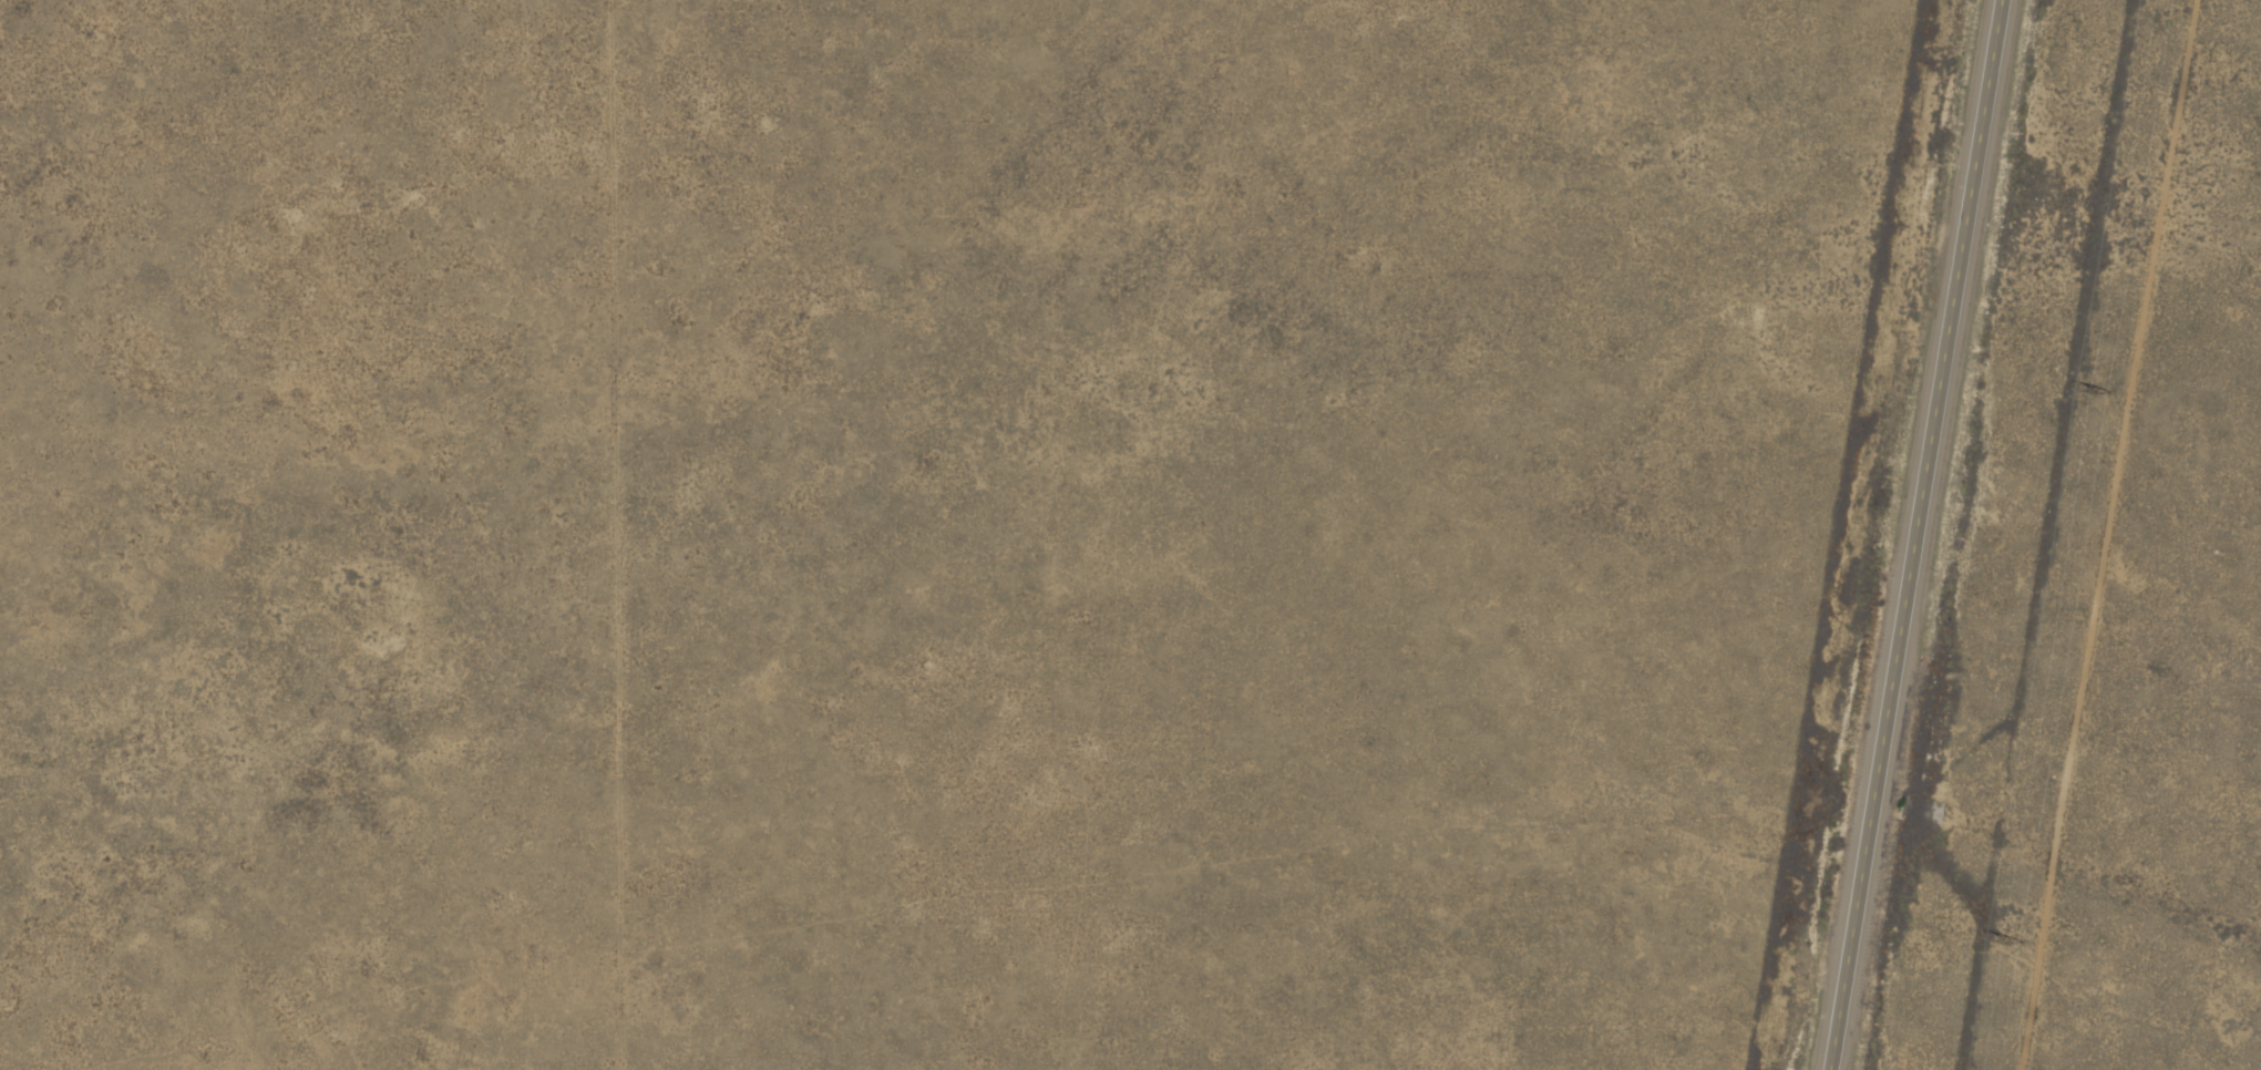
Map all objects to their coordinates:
power tower: (2106, 391)
road: (1903, 534)
power tower: (2018, 939)

